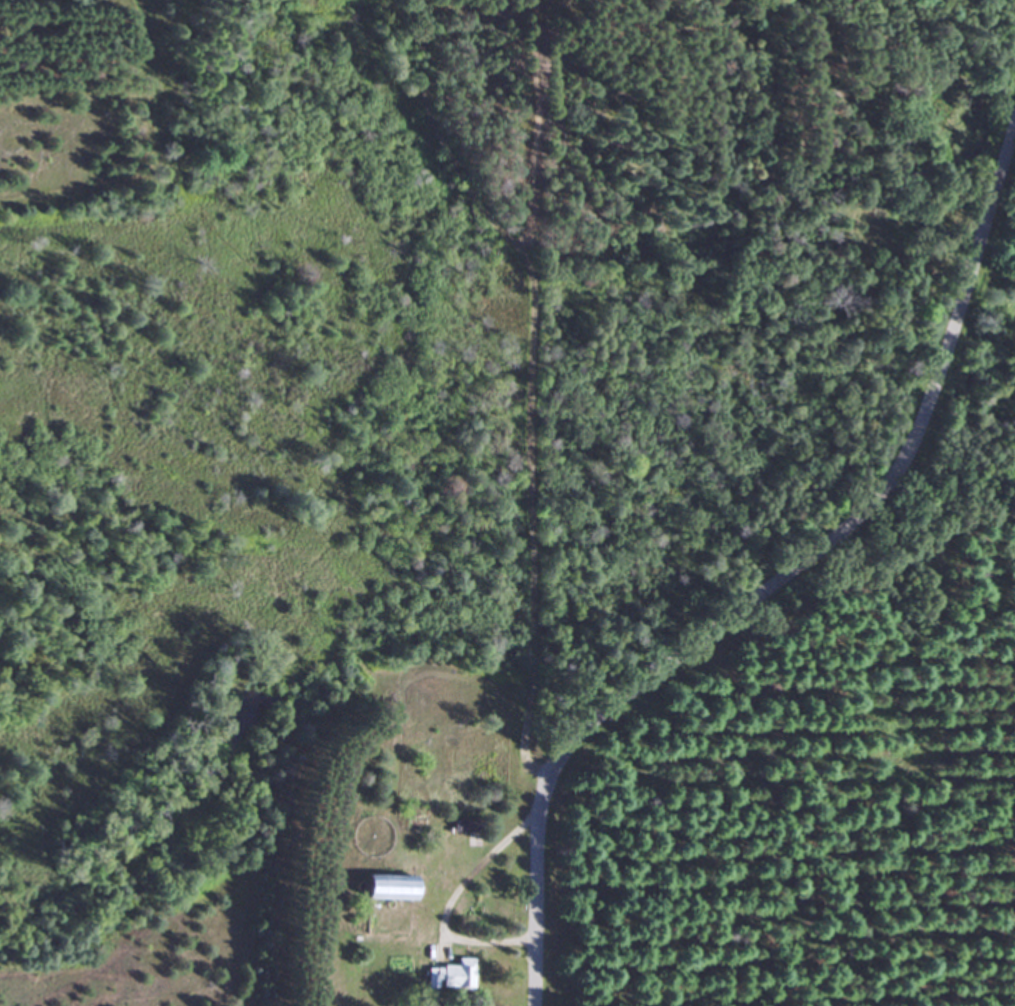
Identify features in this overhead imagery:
road: (473, 181)
road: (536, 390)
road: (779, 579)
building: (379, 887)
road: (456, 907)
building: (451, 975)

